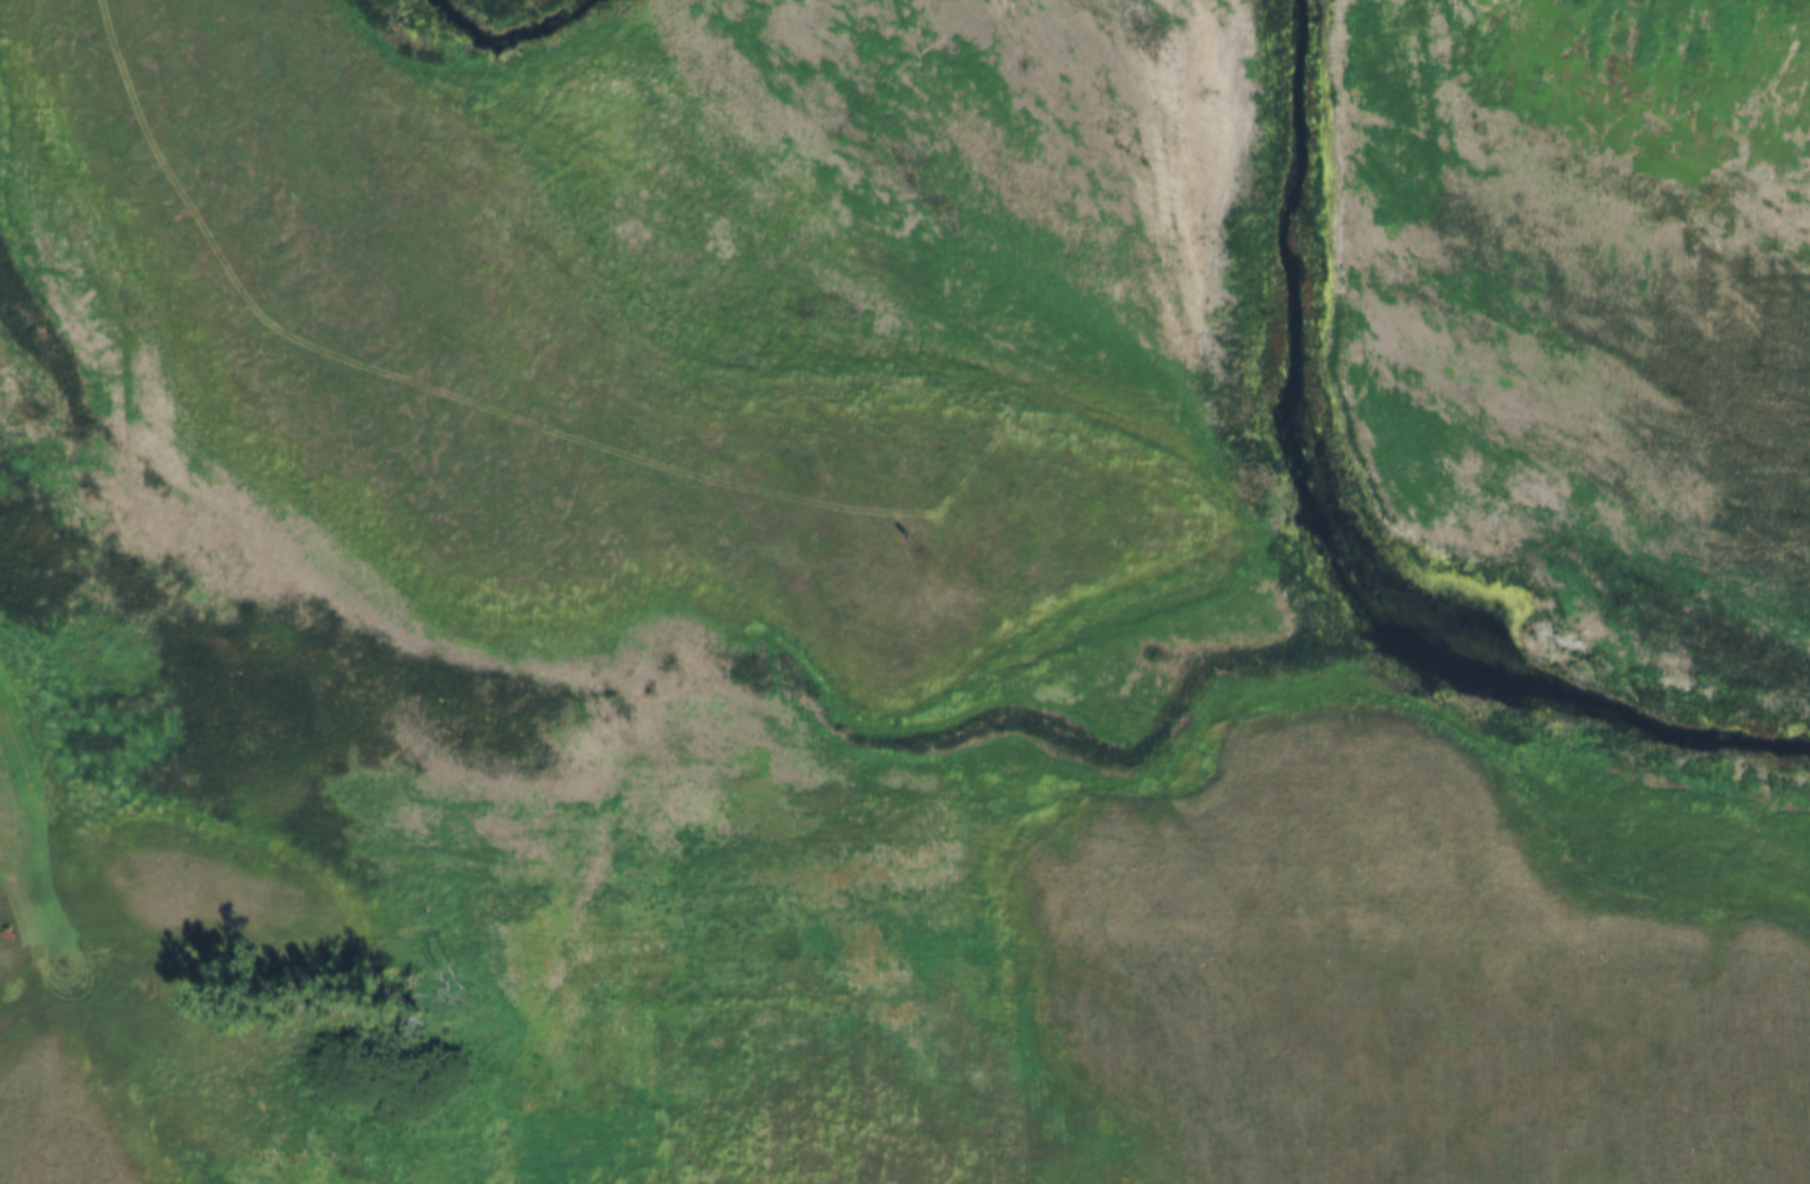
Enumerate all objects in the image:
river: (495, 7)
river: (1346, 506)

